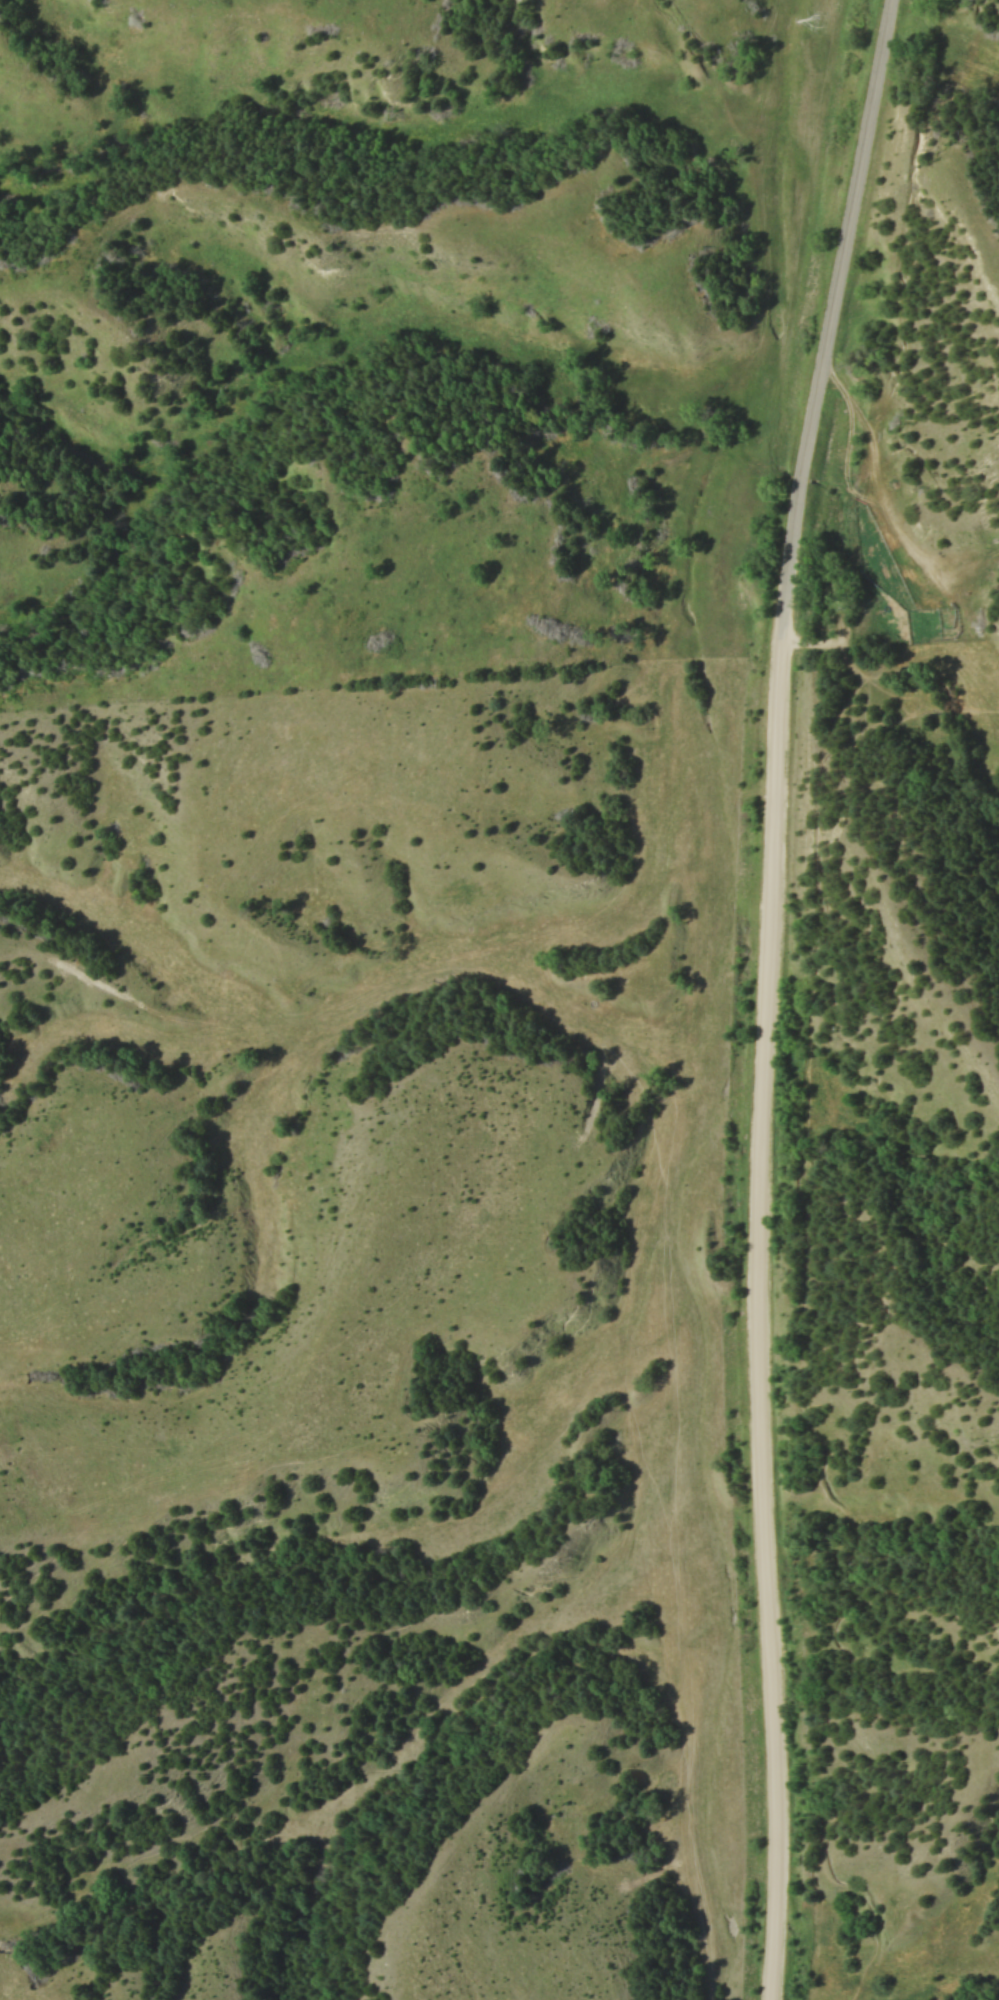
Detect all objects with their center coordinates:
road: (831, 313)
road: (942, 807)
road: (917, 904)
road: (754, 1314)
crop: (898, 1323)
road: (798, 1331)

